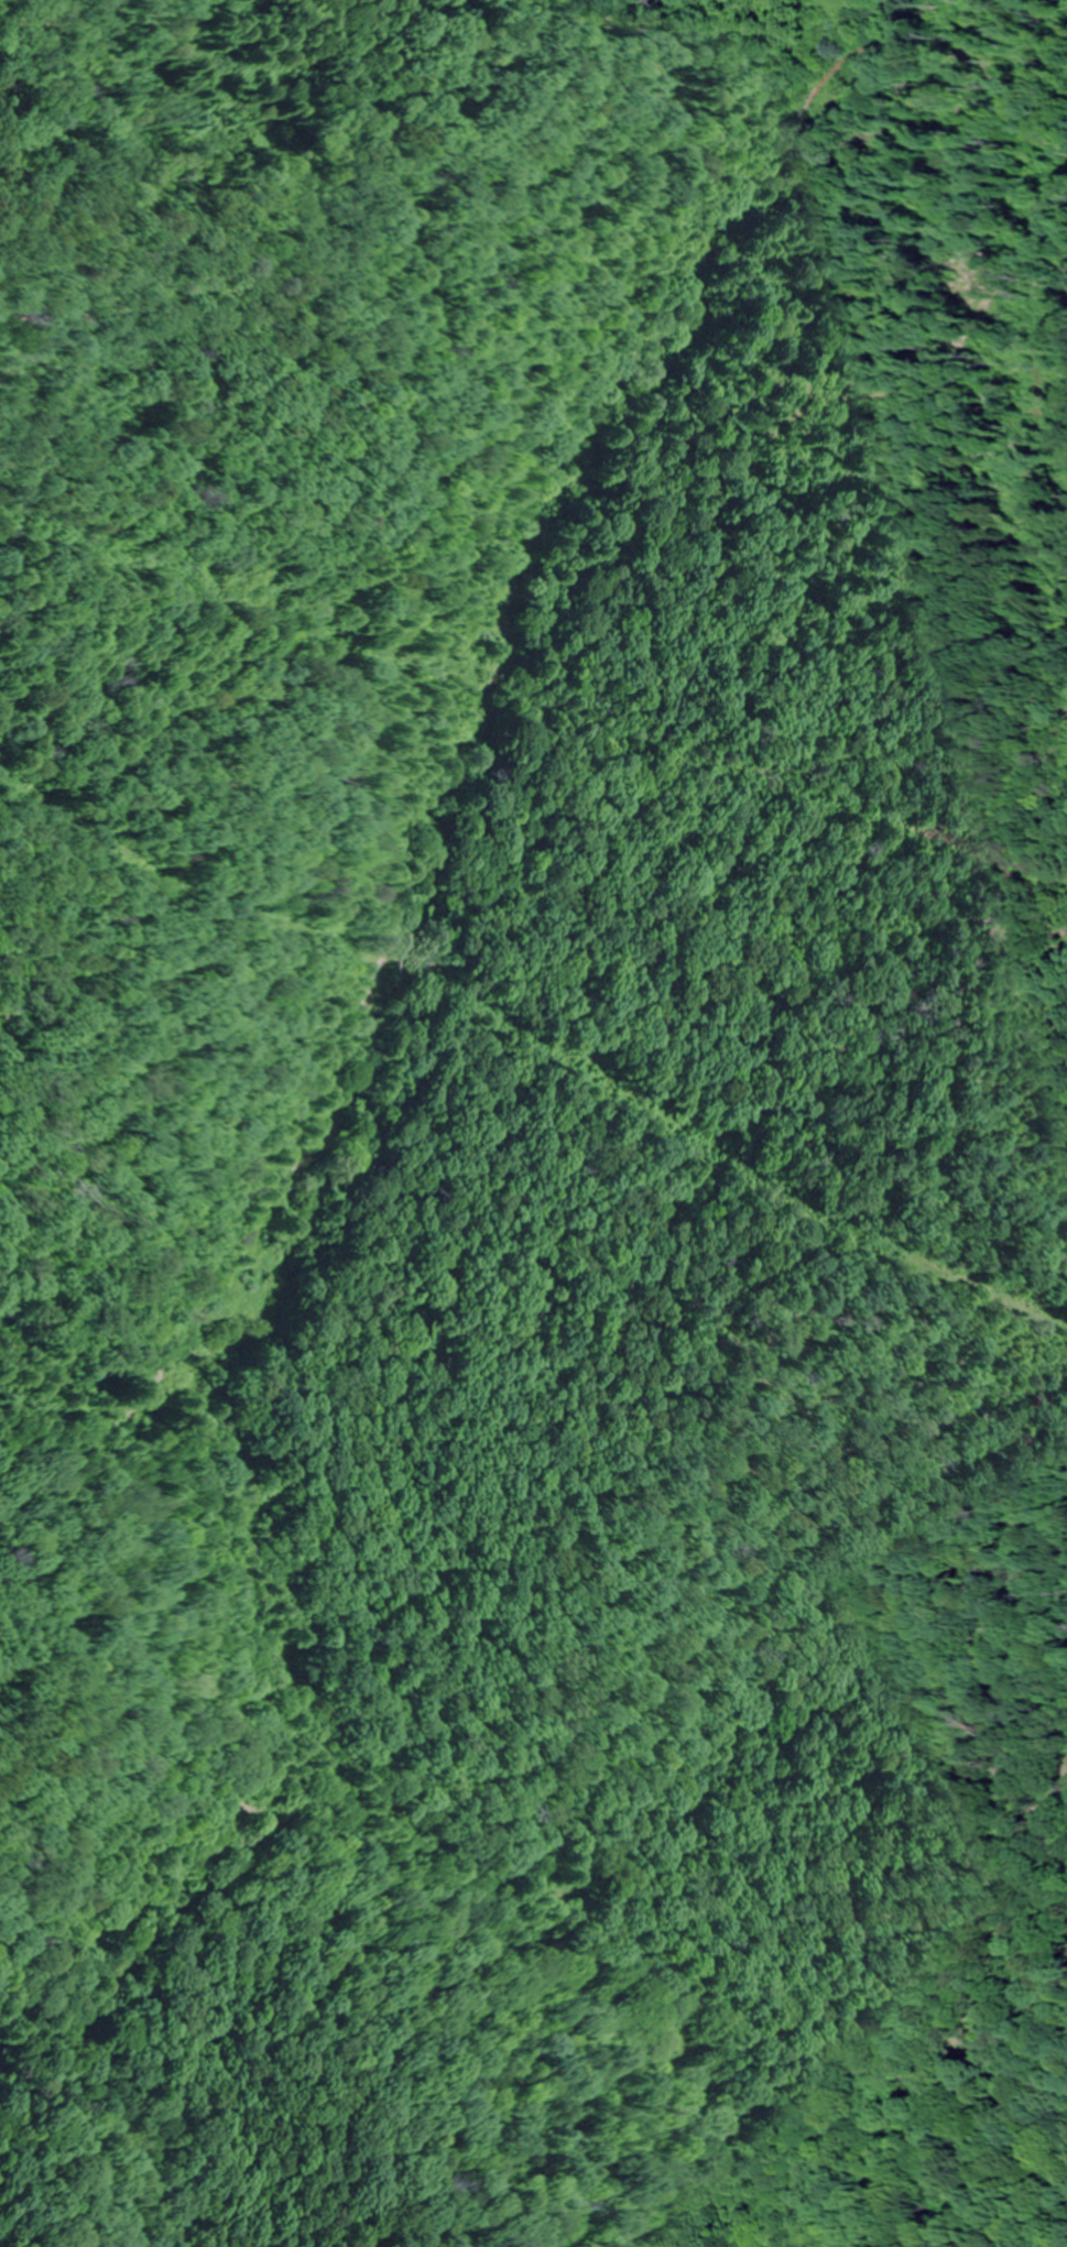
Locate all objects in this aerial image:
road: (226, 1152)

